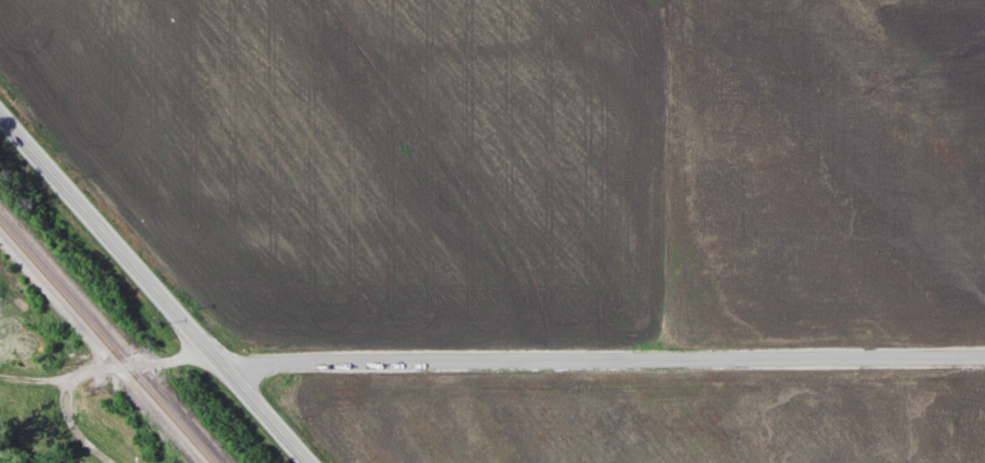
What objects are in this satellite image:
road: (153, 288)
railway: (107, 342)
road: (604, 364)
road: (92, 373)
road: (38, 380)

